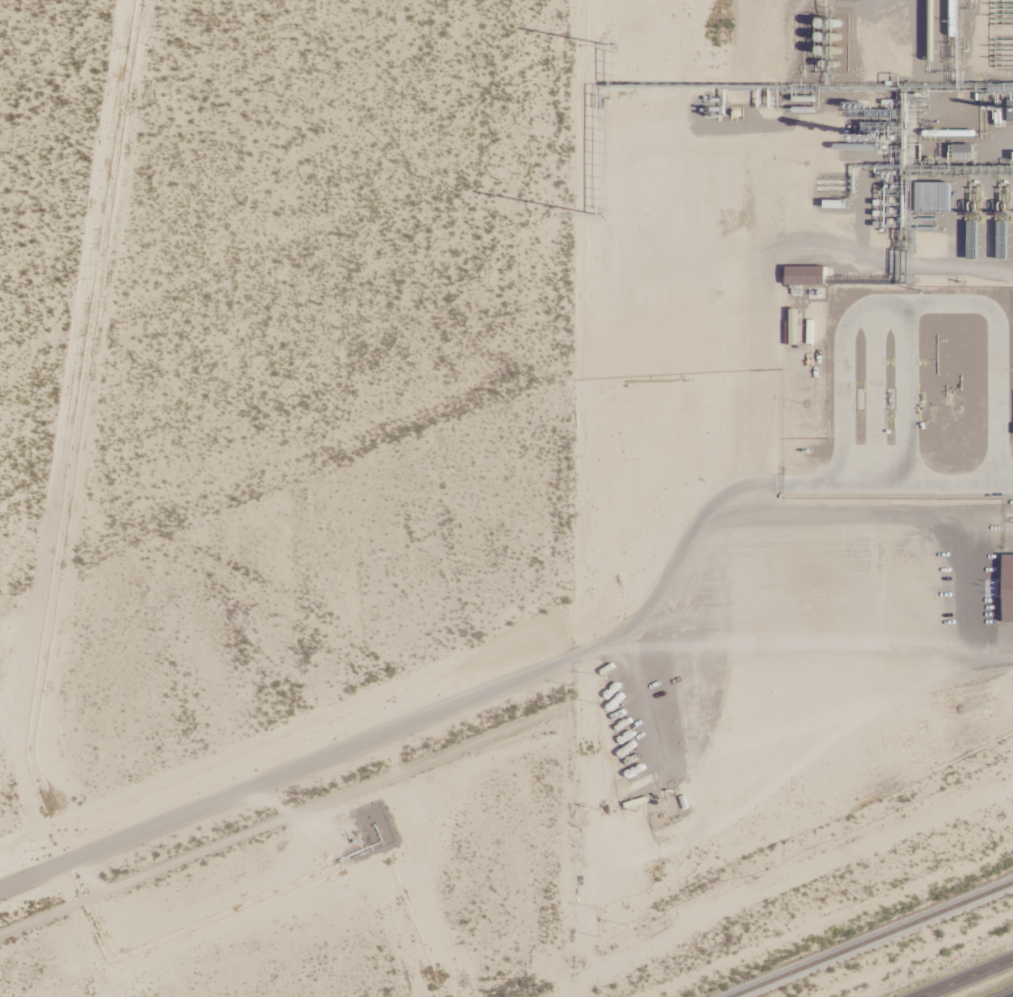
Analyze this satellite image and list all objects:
building: (964, 153)
building: (935, 197)
building: (807, 276)
building: (1009, 569)
road: (283, 777)
railway: (875, 941)
road: (968, 978)

